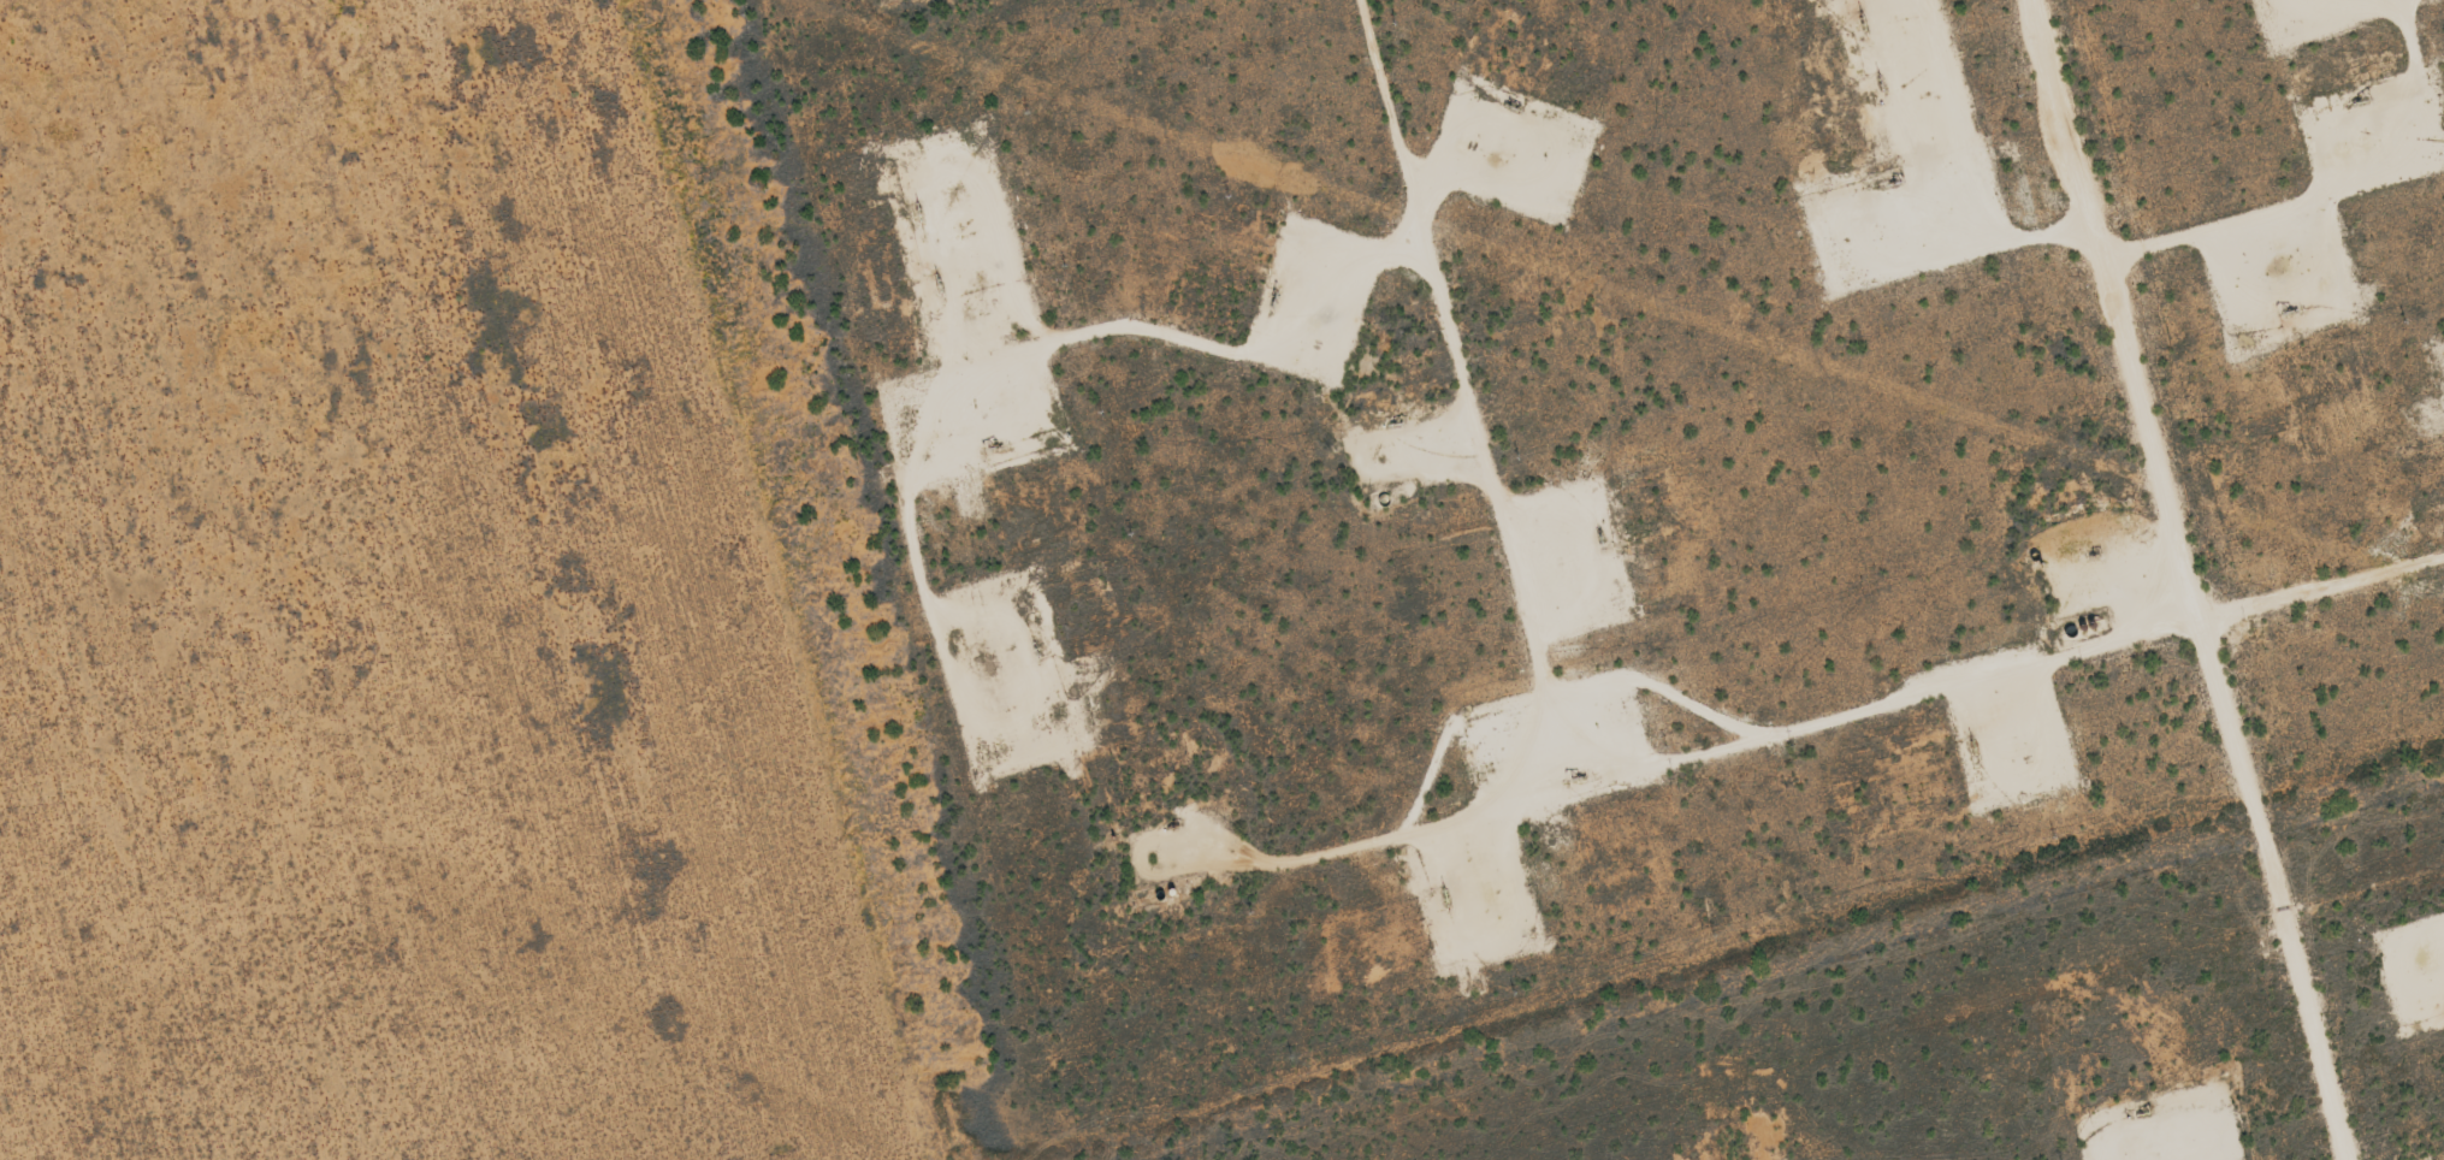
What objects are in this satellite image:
road: (2188, 579)

